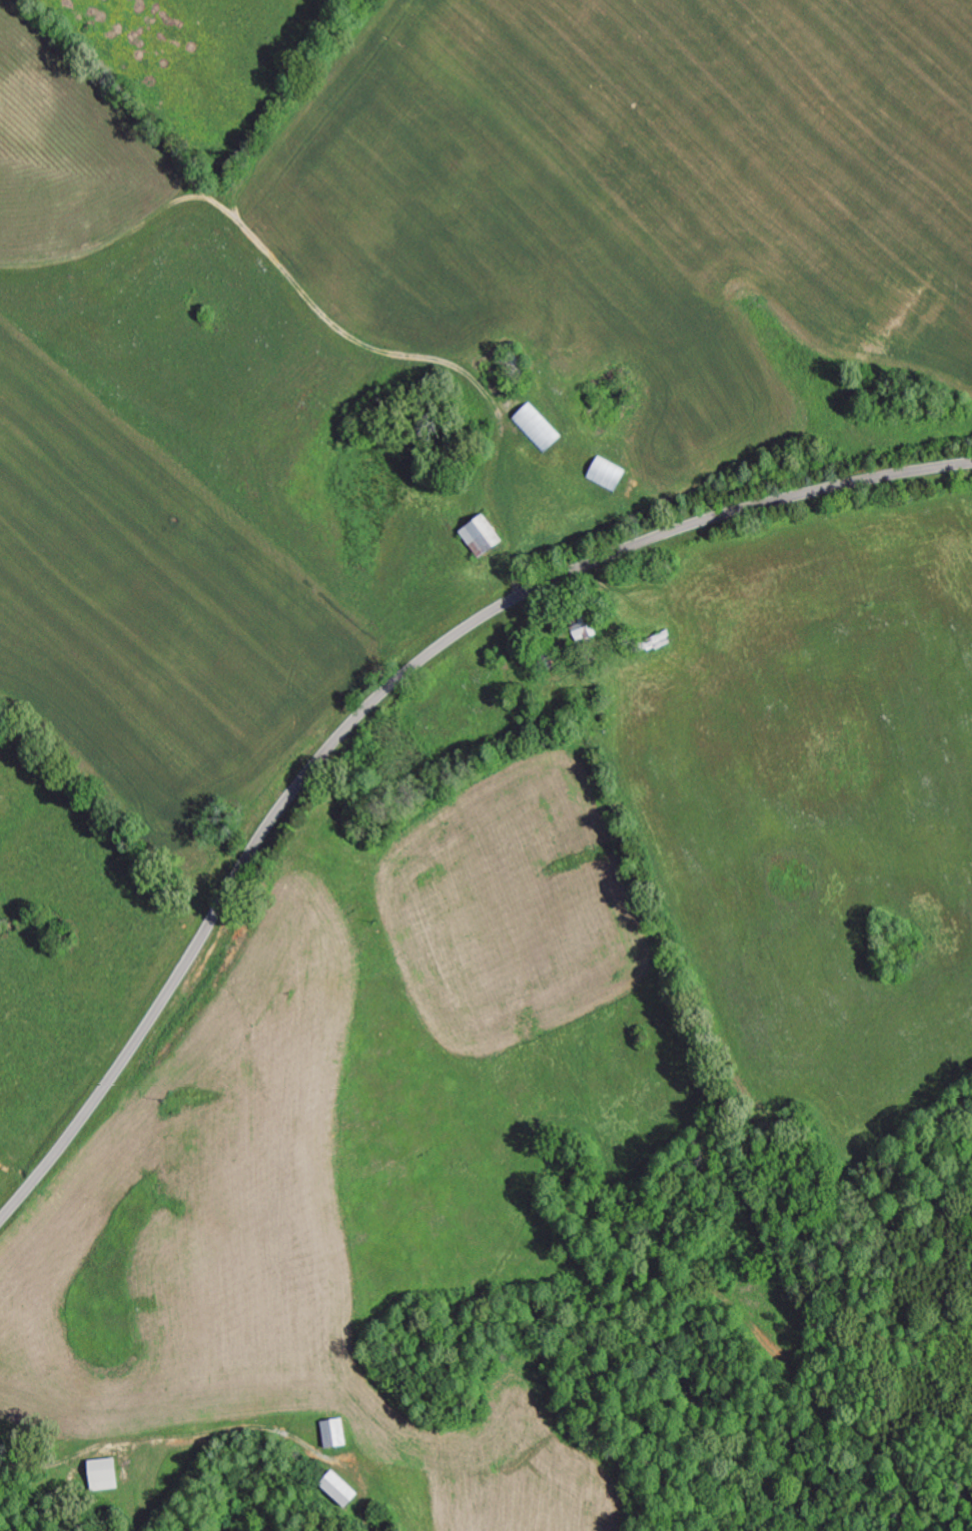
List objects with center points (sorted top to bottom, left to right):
building: (476, 534)
road: (379, 698)
building: (100, 1473)
building: (334, 1487)

